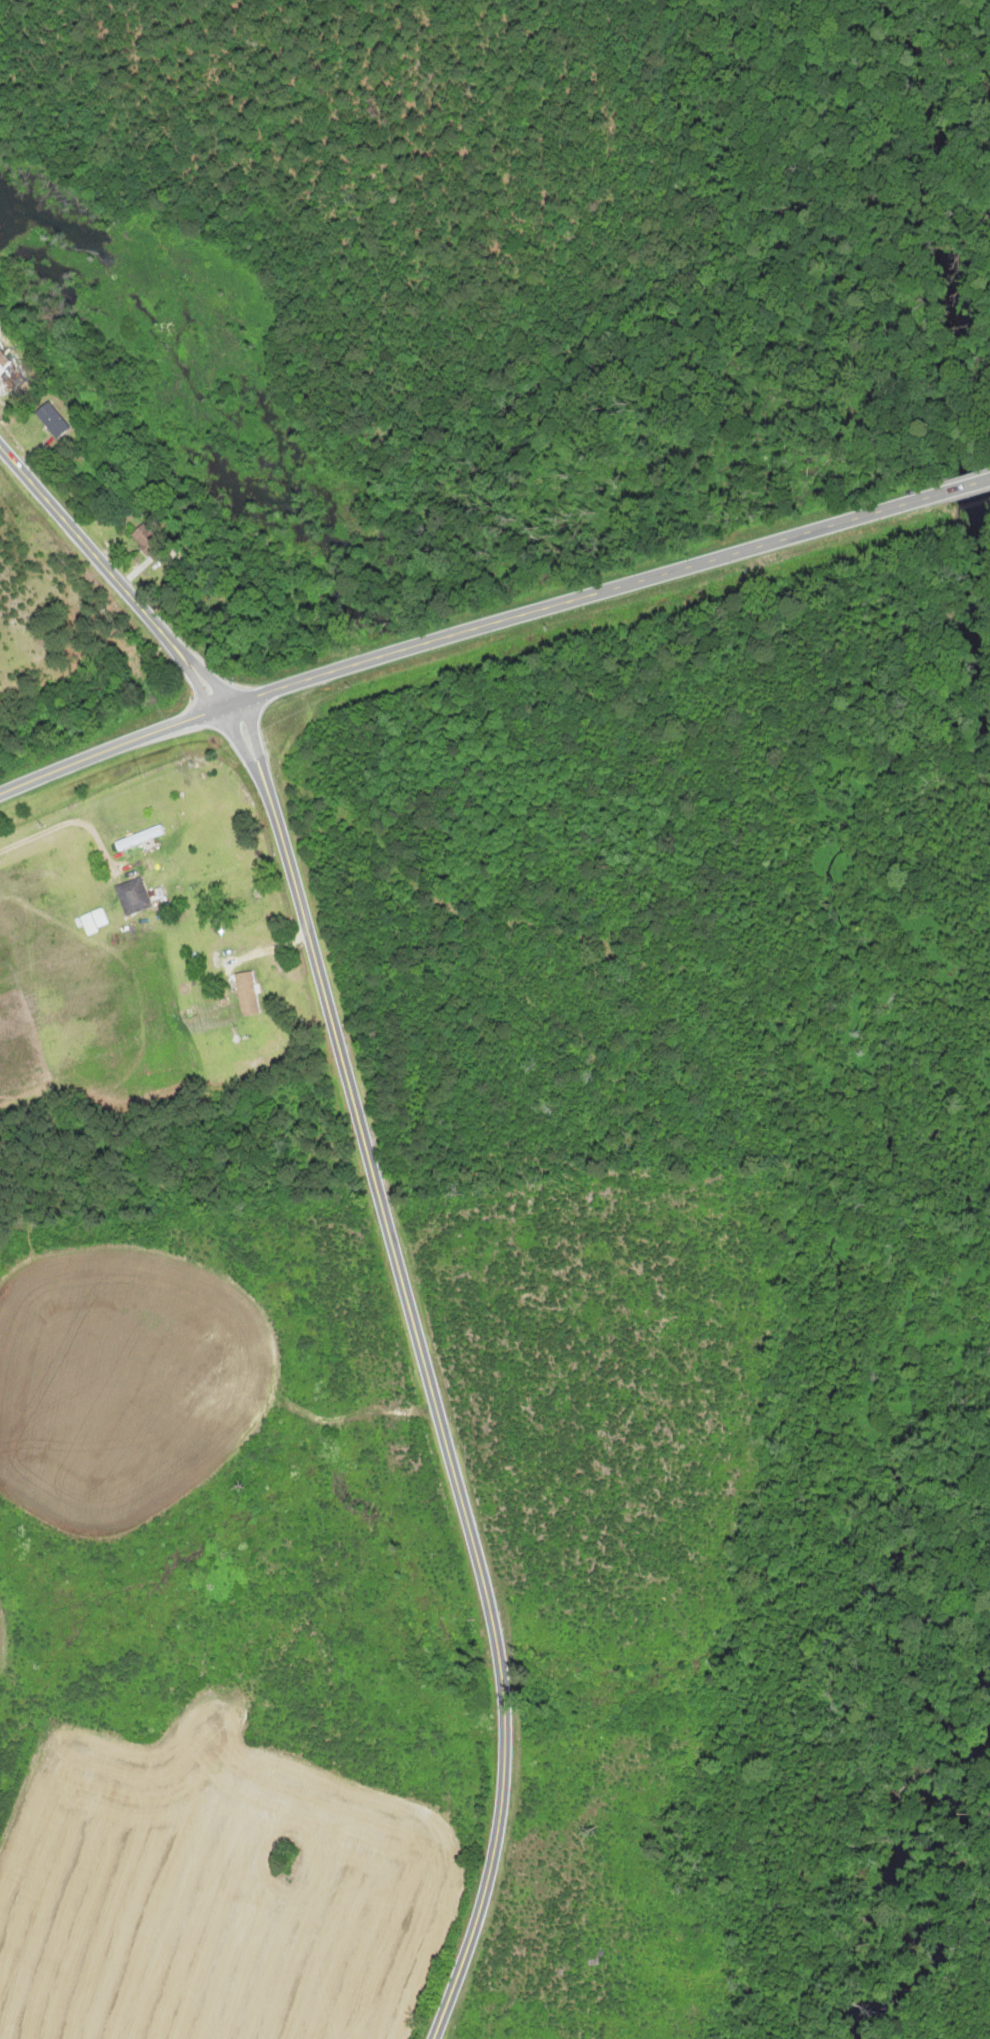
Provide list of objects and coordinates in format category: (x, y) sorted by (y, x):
building: (8, 376)
building: (50, 422)
road: (968, 485)
building: (144, 540)
road: (471, 638)
building: (138, 839)
building: (132, 898)
building: (245, 993)
road: (384, 1192)

